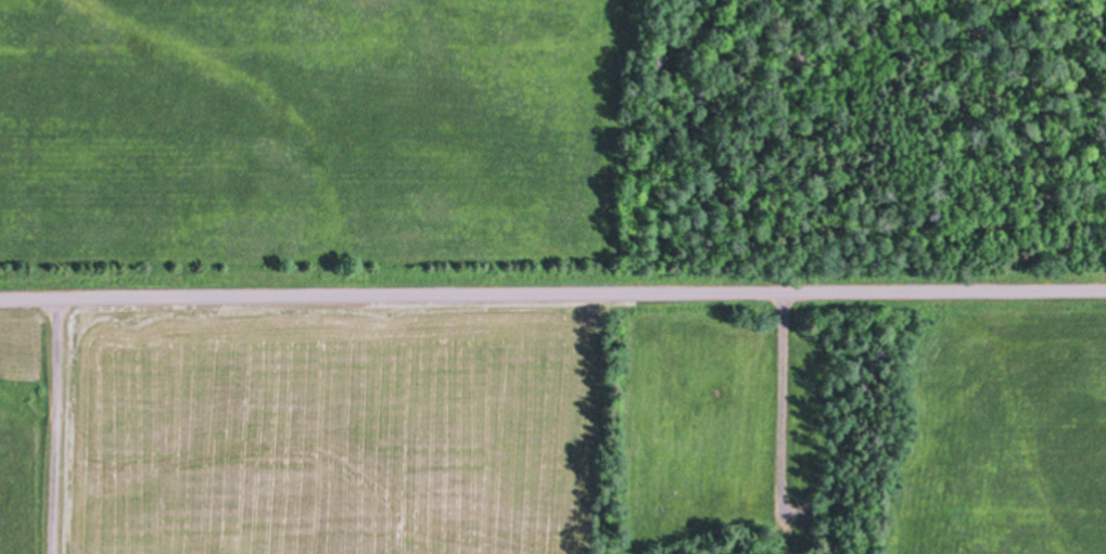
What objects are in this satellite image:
road: (552, 291)
road: (783, 399)
road: (53, 425)

